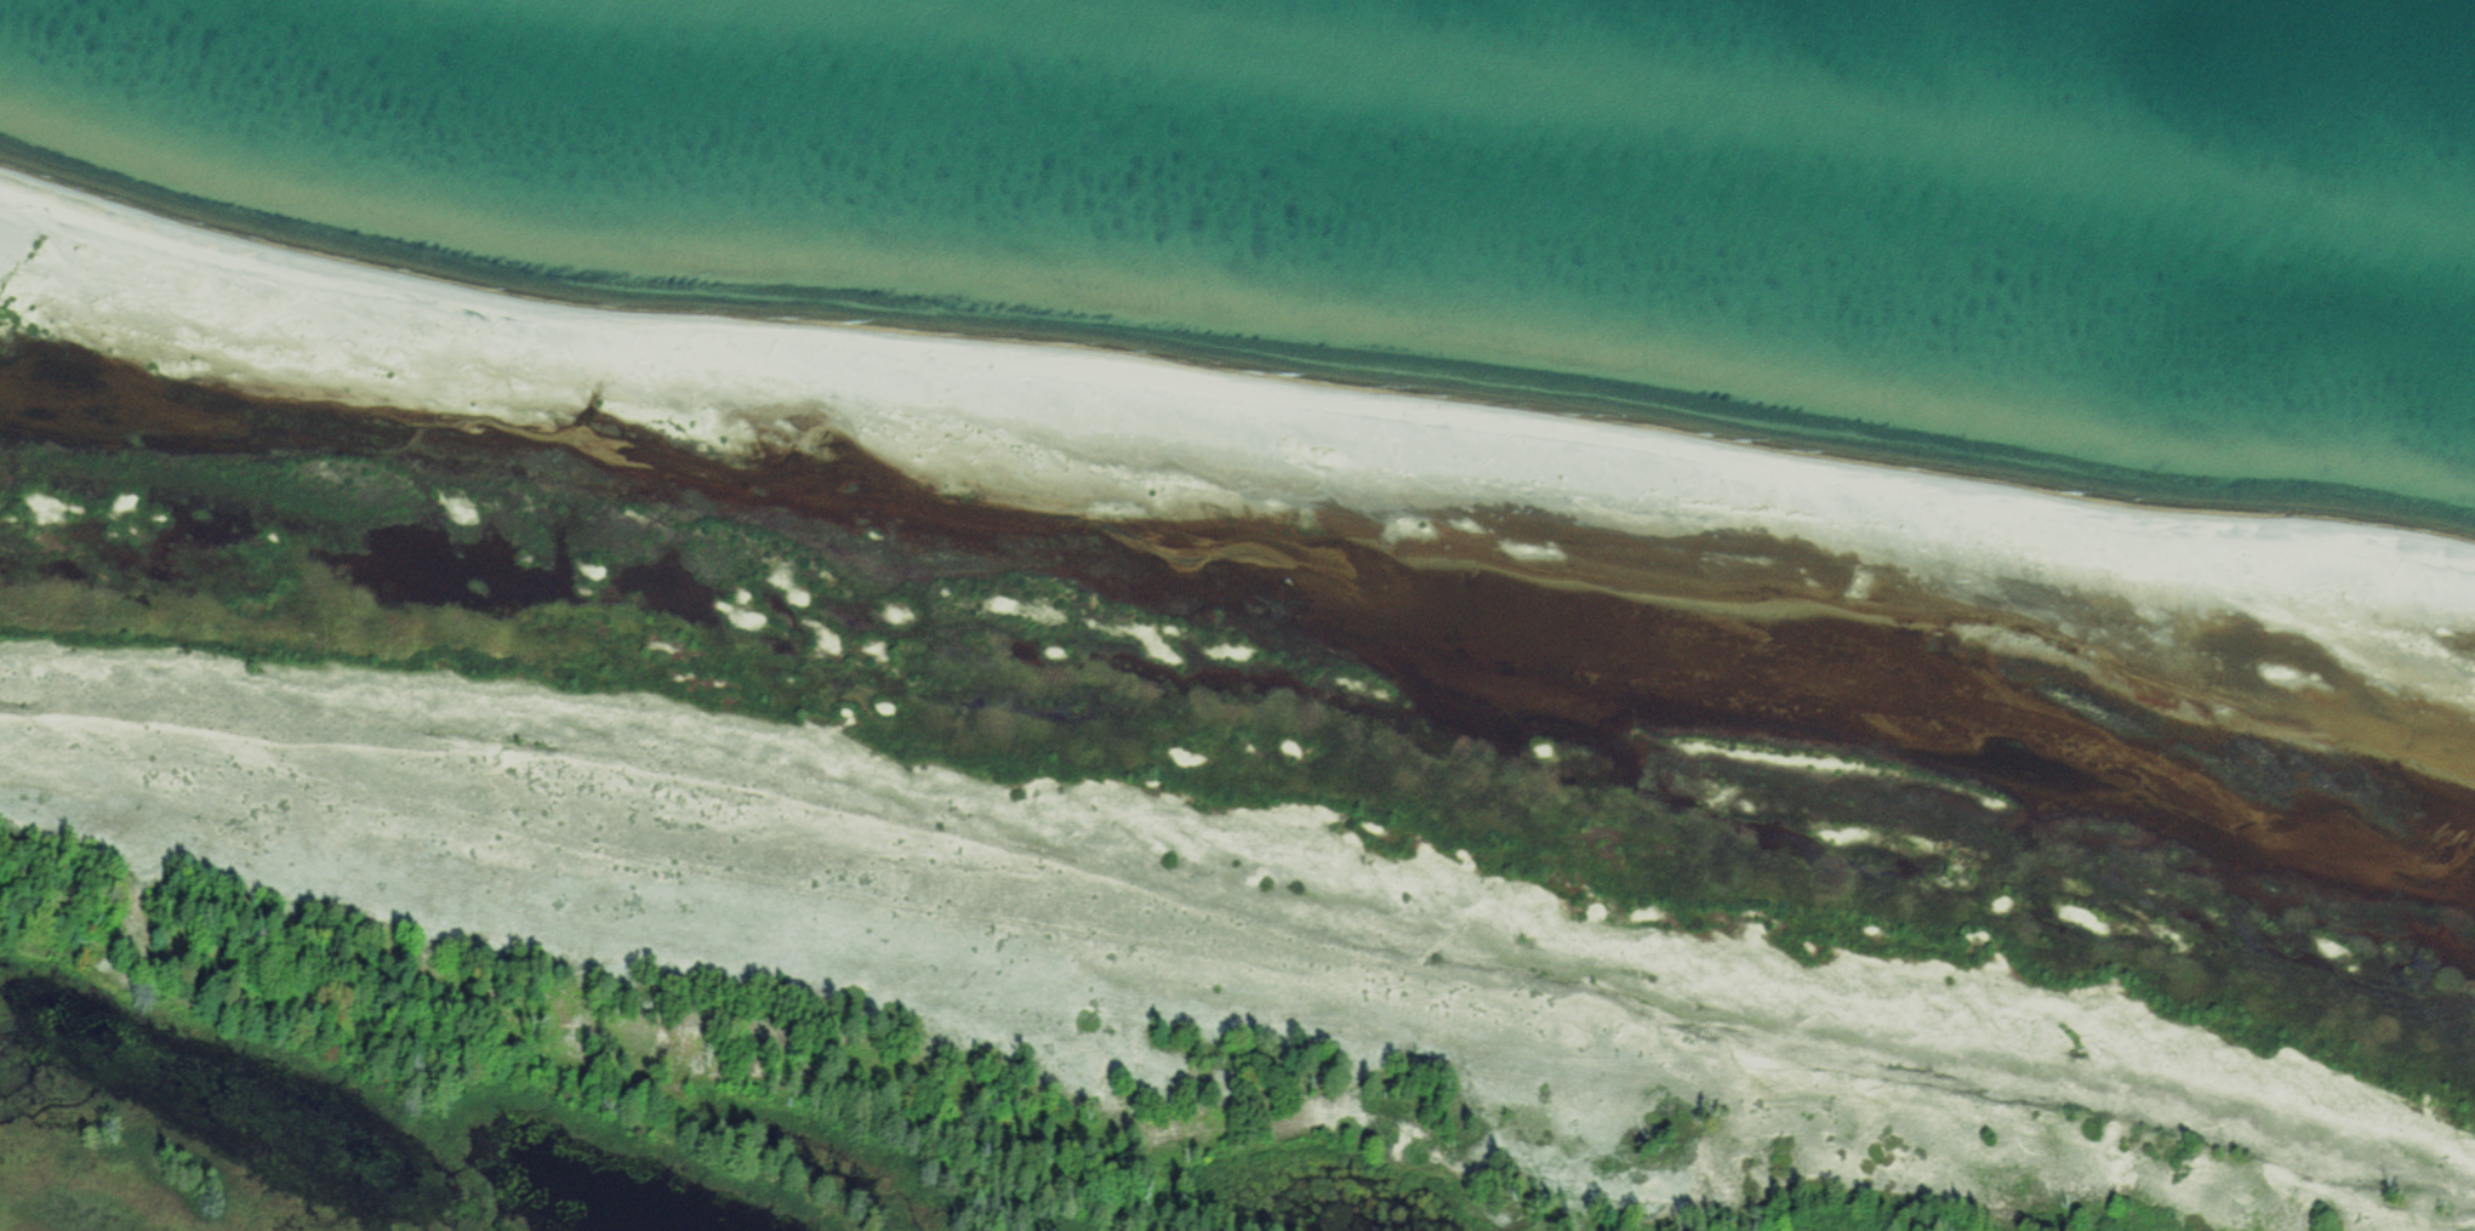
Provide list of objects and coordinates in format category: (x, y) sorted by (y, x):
road: (577, 764)

